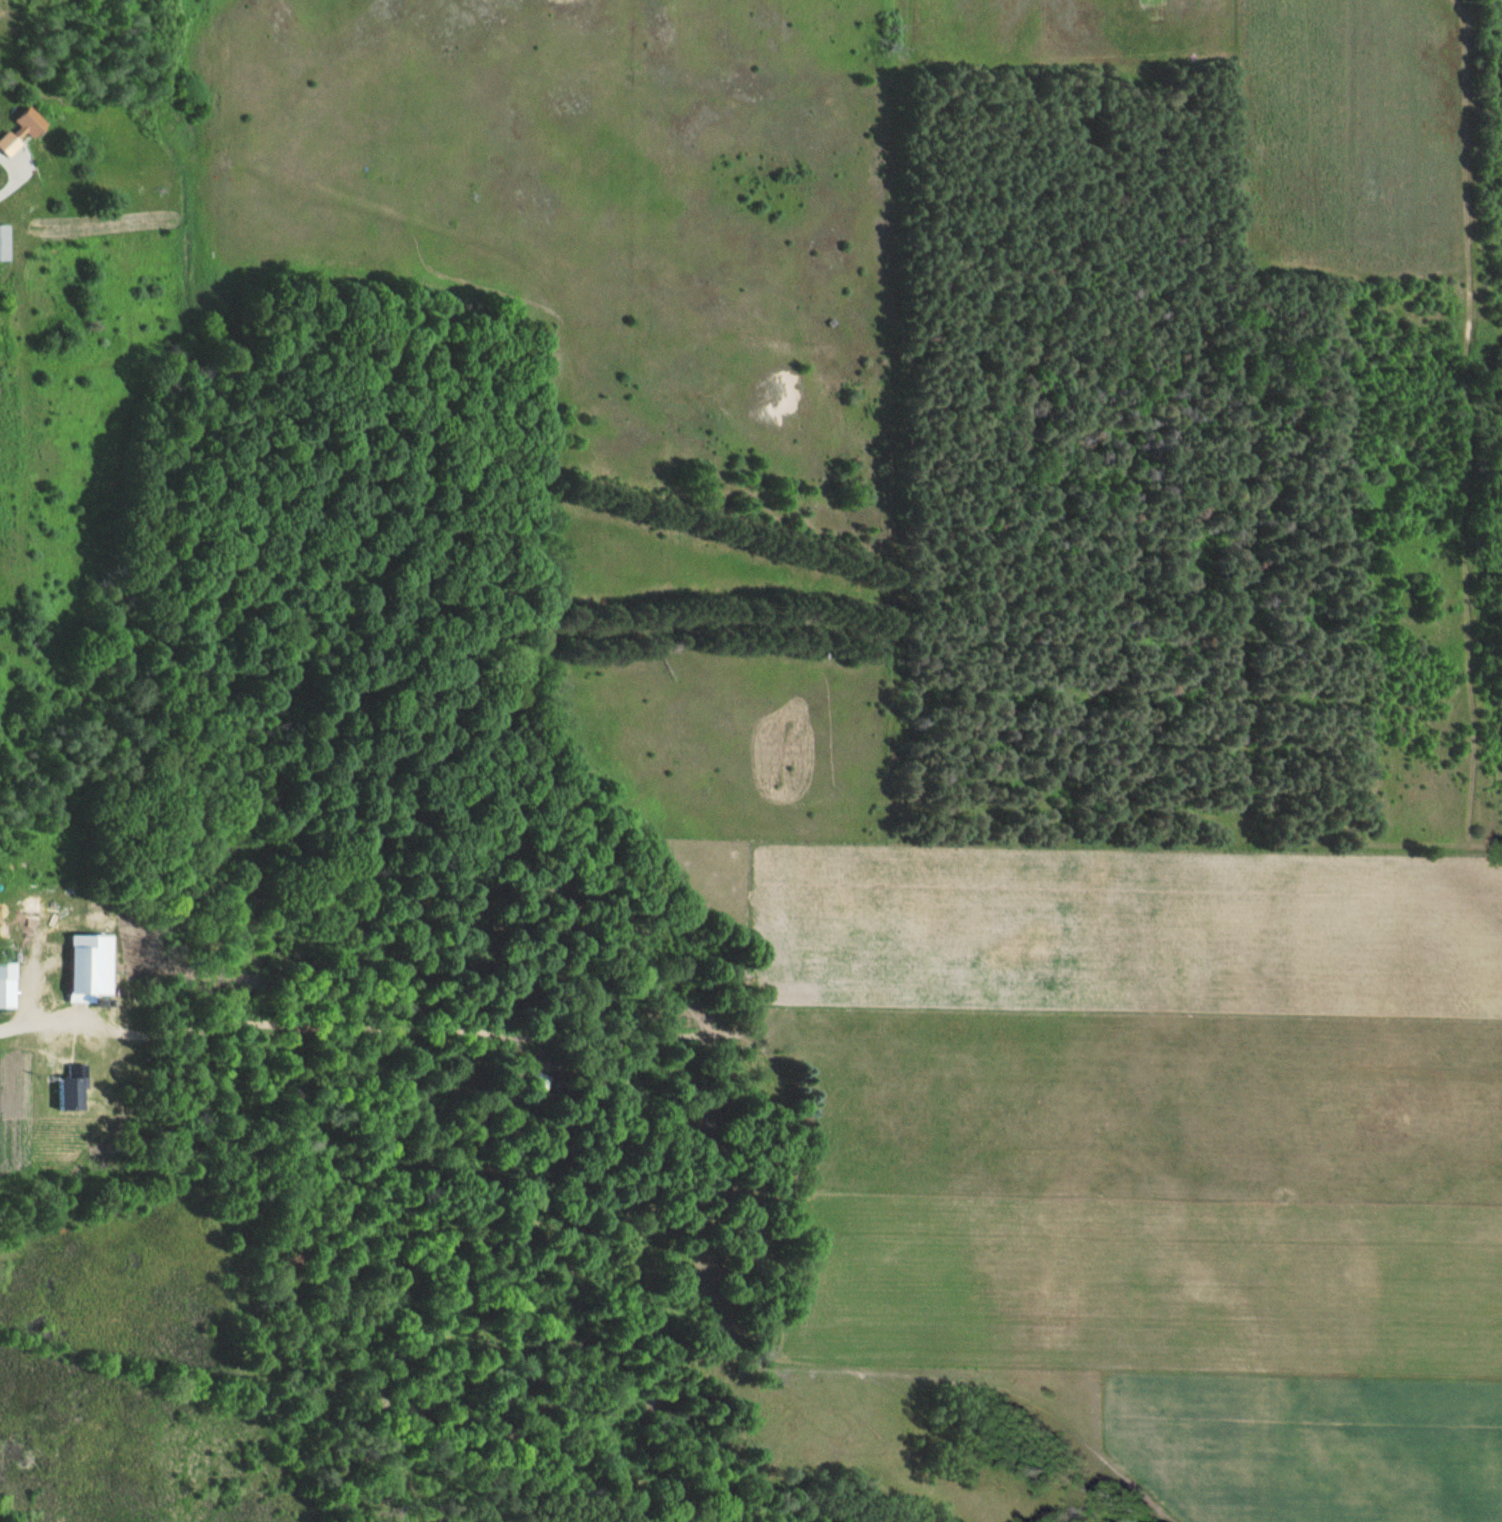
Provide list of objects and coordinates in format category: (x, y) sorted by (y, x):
building: (24, 117)
building: (9, 140)
building: (3, 241)

